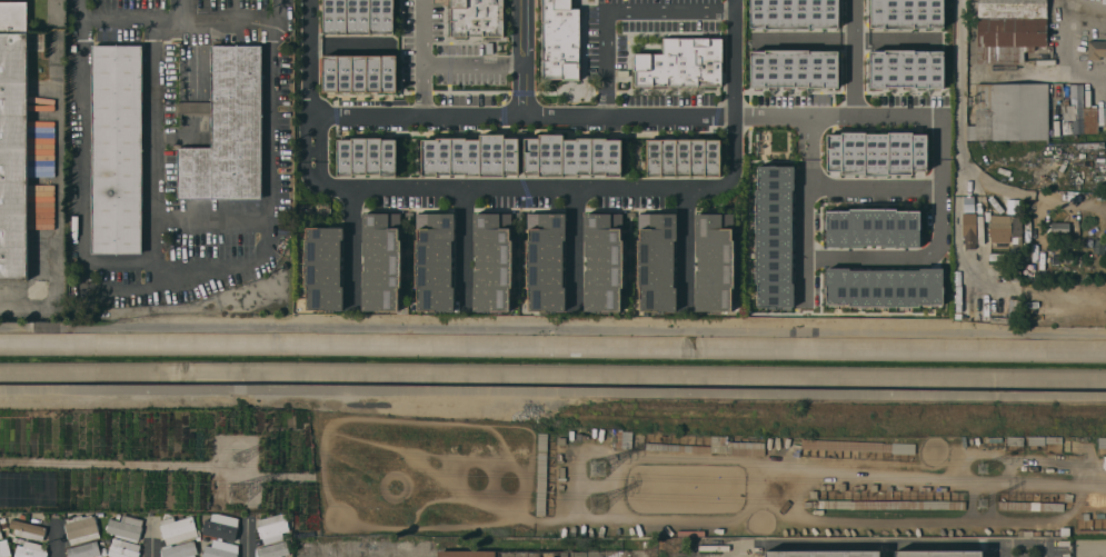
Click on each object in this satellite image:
road: (283, 9)
road: (180, 10)
road: (82, 11)
road: (616, 11)
building: (907, 12)
building: (794, 13)
road: (1083, 14)
building: (358, 16)
building: (477, 18)
road: (183, 20)
building: (1010, 29)
building: (560, 40)
road: (838, 41)
building: (1096, 50)
road: (421, 58)
road: (521, 58)
road: (1063, 58)
road: (856, 59)
building: (682, 63)
road: (471, 64)
building: (795, 67)
building: (907, 67)
building: (360, 72)
building: (1010, 112)
building: (1069, 113)
road: (627, 117)
road: (278, 119)
building: (1093, 120)
building: (228, 131)
road: (959, 133)
building: (13, 140)
building: (117, 149)
building: (878, 152)
building: (40, 153)
road: (153, 153)
building: (472, 155)
building: (572, 155)
building: (685, 156)
road: (81, 157)
building: (368, 157)
road: (58, 180)
road: (524, 186)
road: (874, 189)
building: (43, 207)
road: (805, 211)
building: (874, 228)
building: (1059, 229)
building: (968, 230)
building: (1006, 231)
building: (775, 236)
road: (351, 246)
road: (466, 247)
road: (575, 247)
road: (685, 248)
road: (936, 250)
building: (436, 262)
building: (713, 262)
building: (380, 263)
building: (491, 263)
building: (547, 263)
building: (602, 263)
building: (657, 263)
building: (323, 267)
road: (192, 277)
building: (886, 287)
building: (743, 448)
power tower: (238, 458)
power tower: (596, 469)
power tower: (989, 470)
road: (933, 476)
power tower: (242, 496)
power tower: (989, 501)
power tower: (594, 505)
building: (80, 528)
building: (126, 528)
building: (272, 528)
building: (27, 529)
building: (222, 529)
building: (0, 535)
building: (179, 537)
road: (54, 539)
road: (151, 540)
road: (249, 540)
building: (1088, 547)
building: (4, 548)
building: (124, 549)
building: (219, 549)
building: (272, 549)
building: (30, 550)
building: (86, 550)
road: (1004, 551)
road: (1046, 553)
building: (531, 554)
building: (824, 554)
building: (939, 554)

